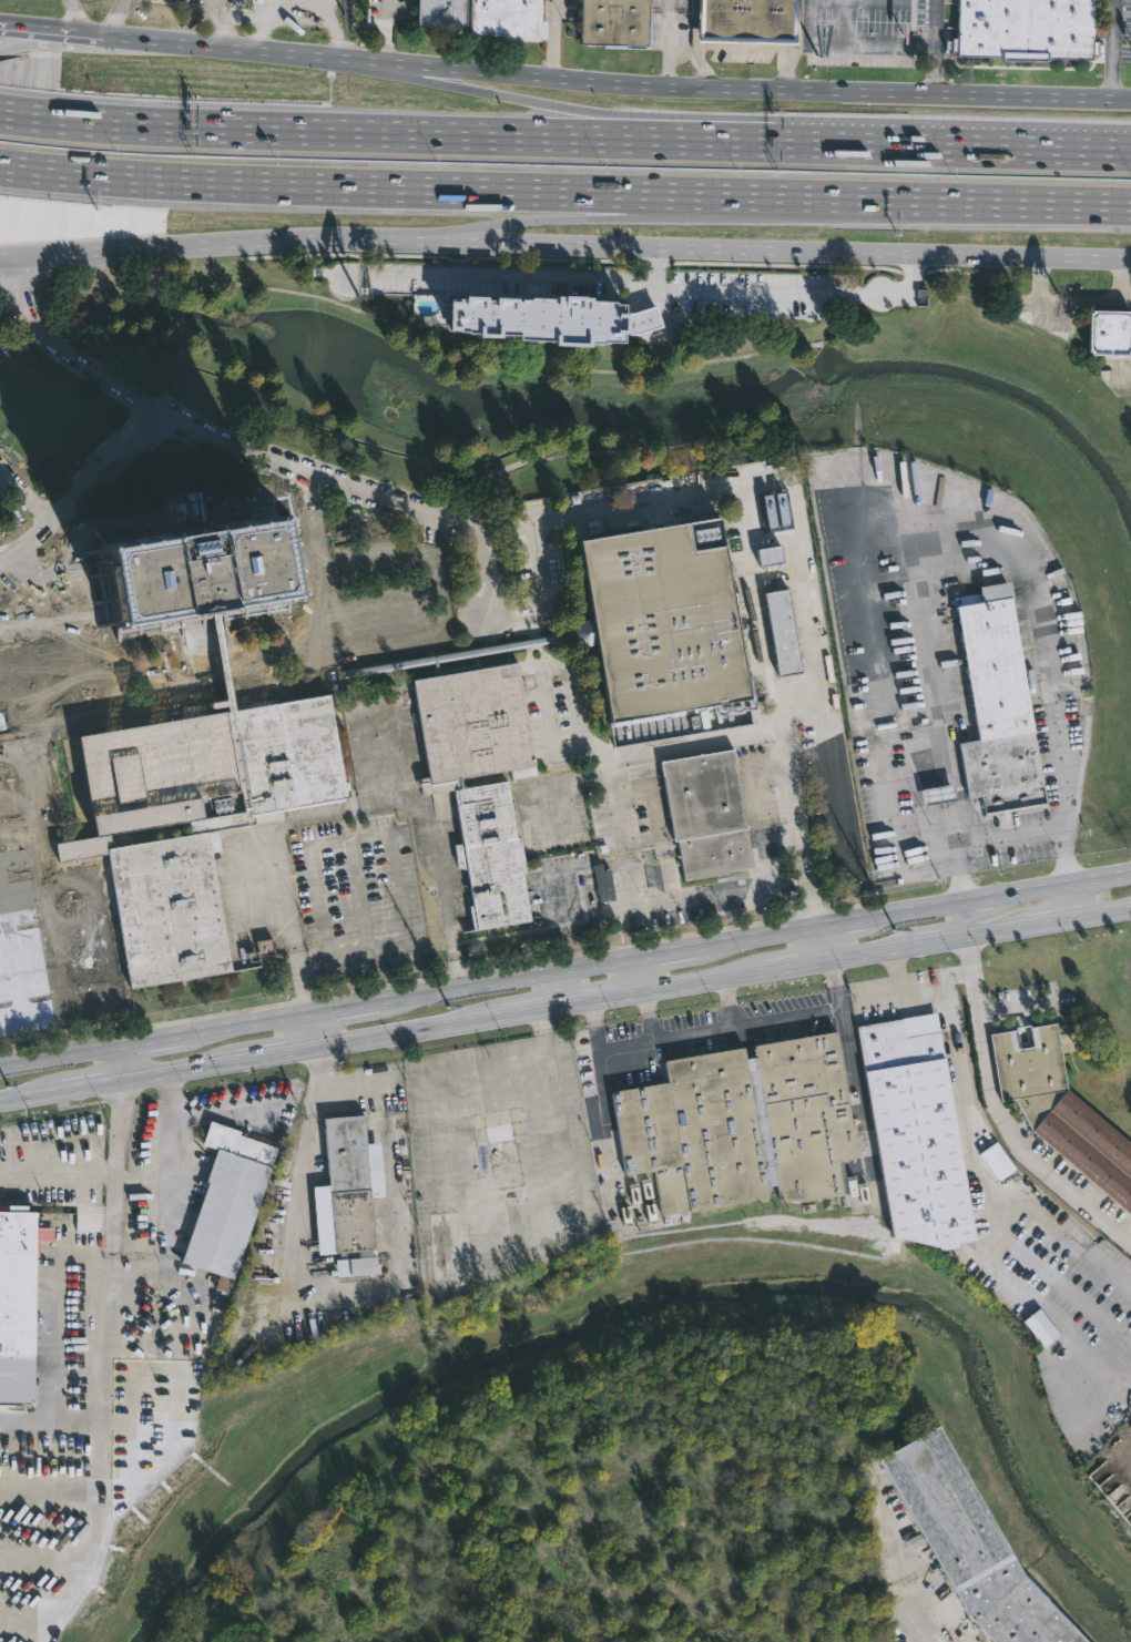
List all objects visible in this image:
road: (670, 6)
building: (442, 12)
road: (72, 16)
road: (115, 18)
building: (506, 18)
building: (748, 20)
road: (220, 23)
building: (617, 23)
road: (47, 29)
building: (1026, 29)
road: (386, 31)
road: (553, 38)
road: (47, 43)
road: (850, 43)
road: (747, 47)
road: (935, 47)
road: (258, 49)
road: (669, 49)
road: (1113, 50)
road: (703, 67)
road: (787, 70)
road: (776, 90)
road: (674, 118)
road: (465, 134)
road: (1030, 149)
road: (395, 187)
road: (960, 202)
road: (602, 218)
road: (207, 243)
road: (773, 248)
road: (445, 255)
road: (785, 264)
road: (656, 265)
road: (952, 268)
road: (913, 273)
road: (496, 274)
road: (1121, 281)
road: (781, 292)
road: (656, 296)
road: (1060, 304)
road: (753, 315)
road: (670, 316)
building: (551, 318)
road: (639, 320)
road: (29, 326)
building: (1110, 333)
park: (455, 384)
road: (177, 404)
road: (129, 408)
road: (149, 424)
road: (186, 425)
road: (202, 450)
road: (100, 458)
road: (112, 470)
road: (310, 489)
road: (23, 496)
road: (776, 496)
road: (619, 504)
road: (368, 509)
road: (40, 529)
road: (432, 529)
road: (940, 531)
road: (487, 545)
road: (77, 548)
road: (378, 557)
building: (195, 578)
road: (505, 611)
building: (663, 622)
building: (786, 633)
road: (333, 652)
road: (48, 656)
road: (115, 663)
building: (997, 703)
road: (633, 751)
building: (483, 794)
road: (614, 802)
road: (349, 810)
building: (710, 816)
building: (195, 820)
road: (1064, 883)
road: (812, 889)
road: (691, 896)
road: (980, 897)
road: (1070, 900)
road: (48, 901)
road: (917, 908)
road: (1102, 914)
road: (848, 919)
road: (965, 919)
road: (1052, 922)
power tower: (896, 929)
road: (999, 931)
road: (766, 934)
road: (827, 941)
road: (939, 941)
road: (673, 949)
road: (870, 952)
road: (799, 966)
road: (641, 973)
road: (513, 976)
road: (705, 981)
road: (836, 985)
road: (562, 987)
road: (880, 996)
road: (604, 999)
road: (349, 1004)
power tower: (449, 1007)
road: (926, 1007)
road: (977, 1009)
road: (537, 1010)
road: (762, 1020)
road: (252, 1022)
road: (312, 1030)
road: (412, 1031)
road: (668, 1036)
road: (157, 1038)
road: (601, 1049)
road: (279, 1053)
road: (60, 1054)
road: (123, 1062)
road: (185, 1070)
power tower: (9, 1084)
road: (99, 1084)
road: (35, 1094)
road: (966, 1095)
building: (1060, 1109)
building: (740, 1124)
building: (915, 1131)
road: (1020, 1149)
building: (501, 1151)
road: (305, 1157)
road: (870, 1160)
road: (102, 1174)
building: (348, 1195)
building: (227, 1202)
building: (91, 1225)
road: (1063, 1234)
building: (447, 1248)
road: (1050, 1272)
road: (109, 1291)
building: (19, 1302)
road: (50, 1415)
road: (98, 1533)
building: (972, 1544)
road: (918, 1629)

